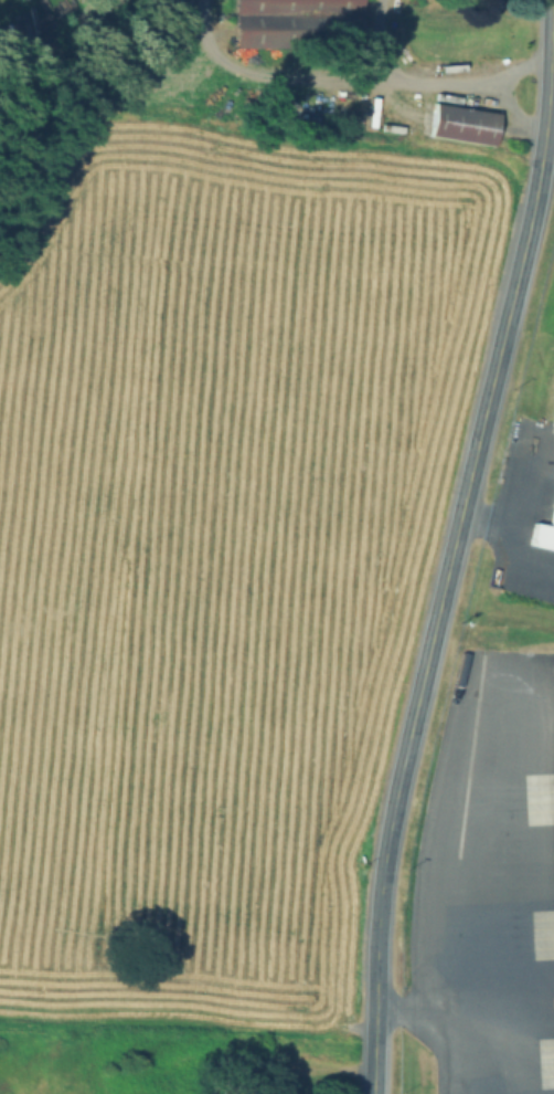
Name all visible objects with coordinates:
building: (292, 23)
road: (285, 74)
road: (409, 83)
road: (501, 93)
building: (460, 124)
building: (553, 420)
crop: (212, 512)
road: (488, 516)
road: (514, 525)
building: (543, 533)
road: (454, 545)
building: (553, 672)
road: (496, 884)
road: (428, 1001)

